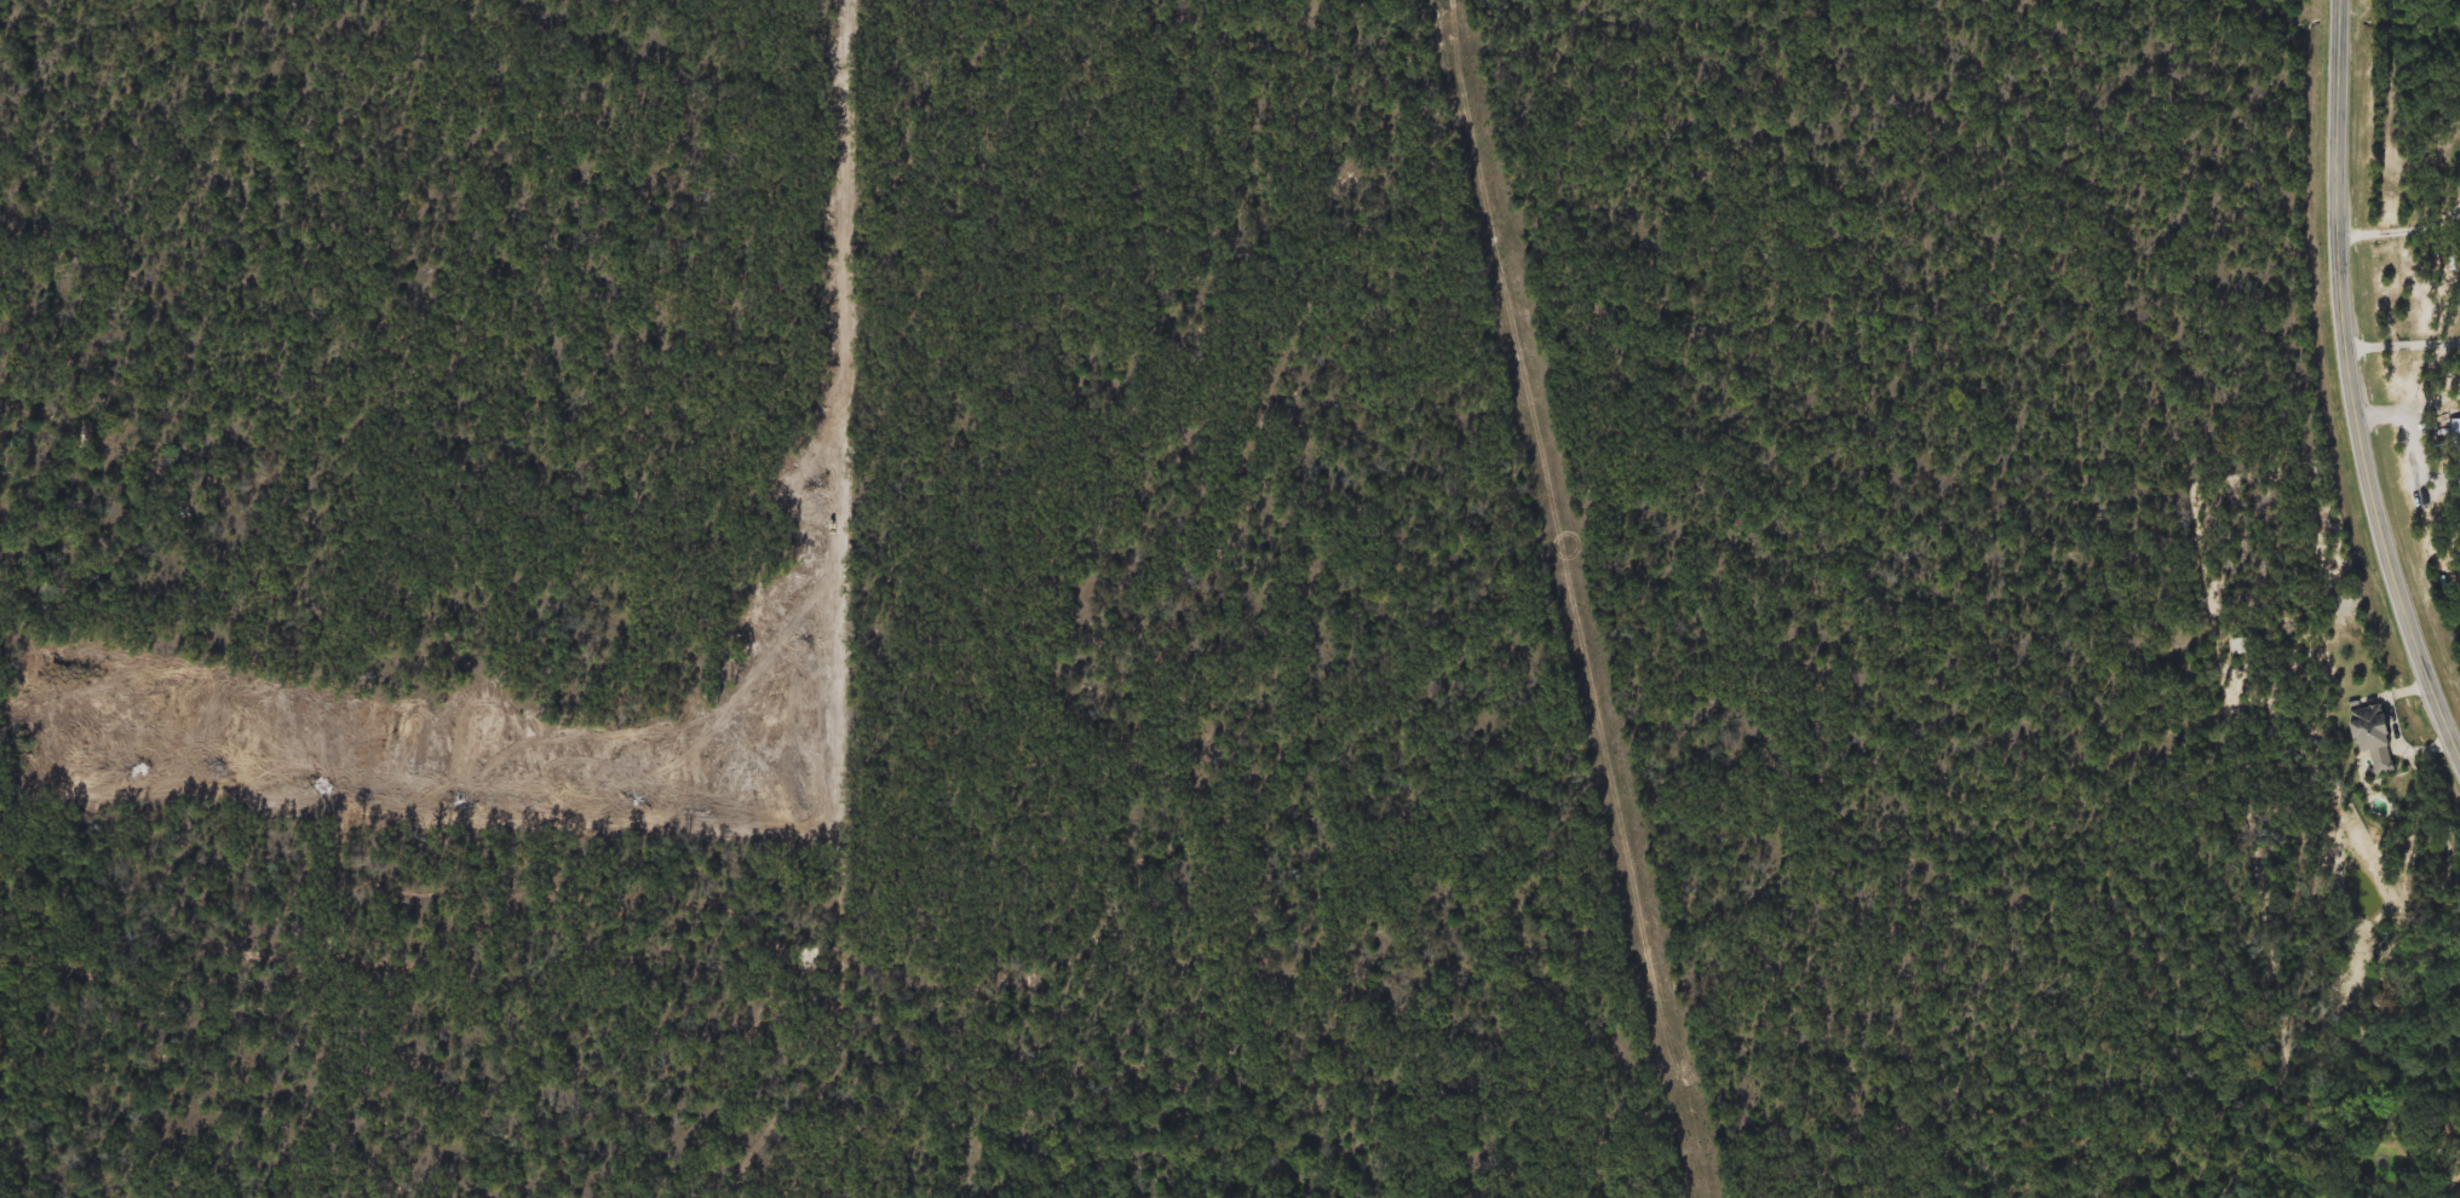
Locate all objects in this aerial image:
road: (2399, 234)
road: (2402, 345)
road: (2347, 390)
road: (2406, 405)
building: (2454, 436)
building: (2370, 745)

